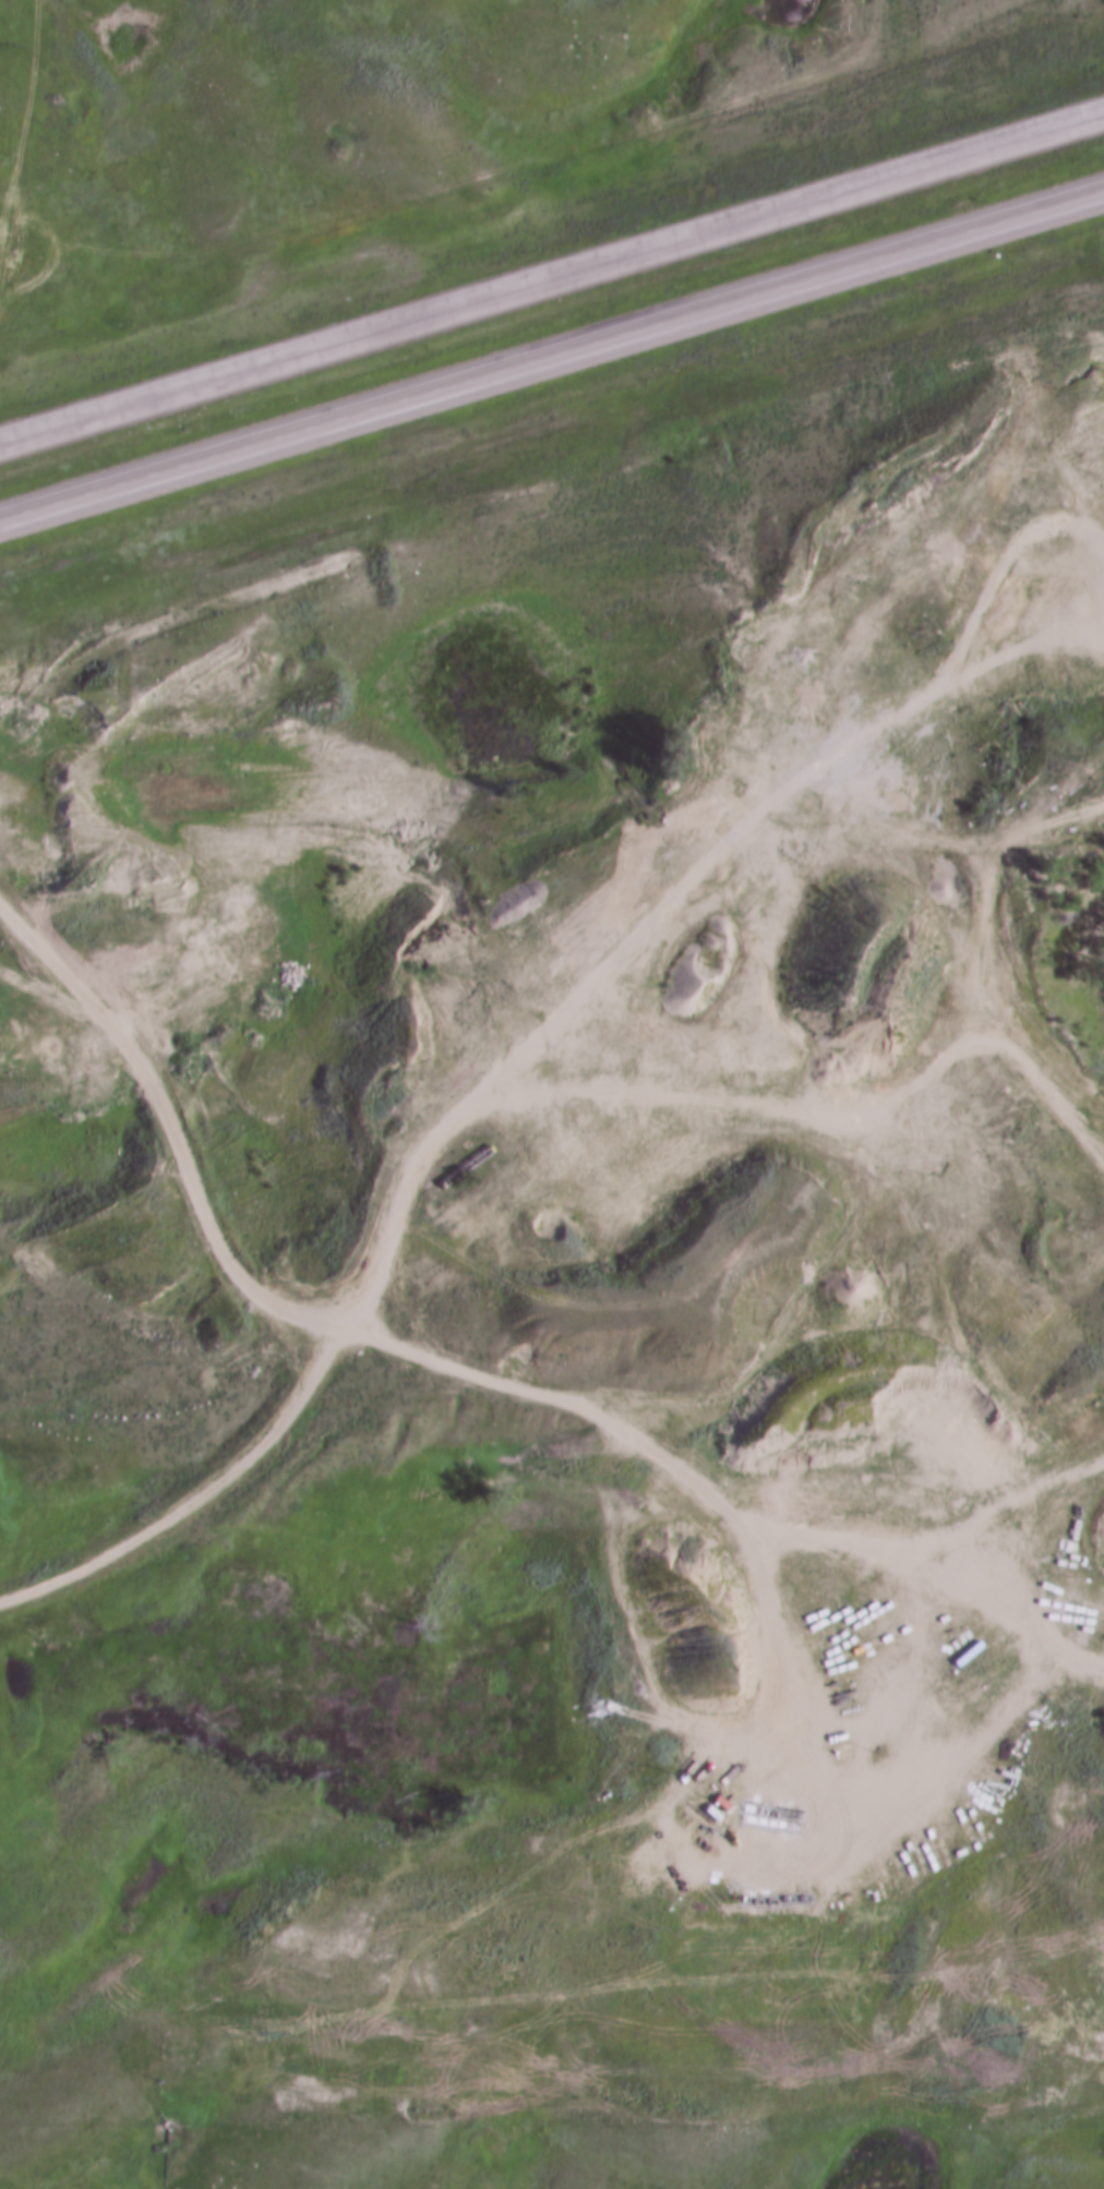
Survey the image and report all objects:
road: (892, 12)
road: (551, 279)
road: (551, 363)
building: (1018, 489)
road: (1034, 1021)
road: (514, 1023)
road: (178, 1103)
road: (861, 1250)
quarry: (650, 1276)
road: (885, 1535)

